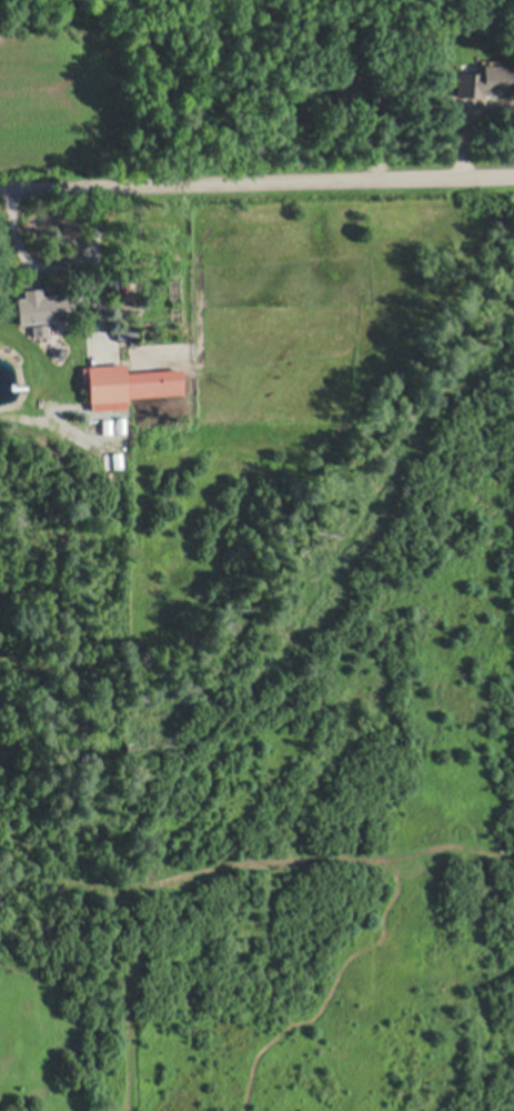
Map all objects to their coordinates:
building: (487, 82)
building: (346, 89)
road: (256, 179)
road: (57, 266)
building: (44, 306)
building: (41, 331)
building: (127, 333)
building: (128, 384)

